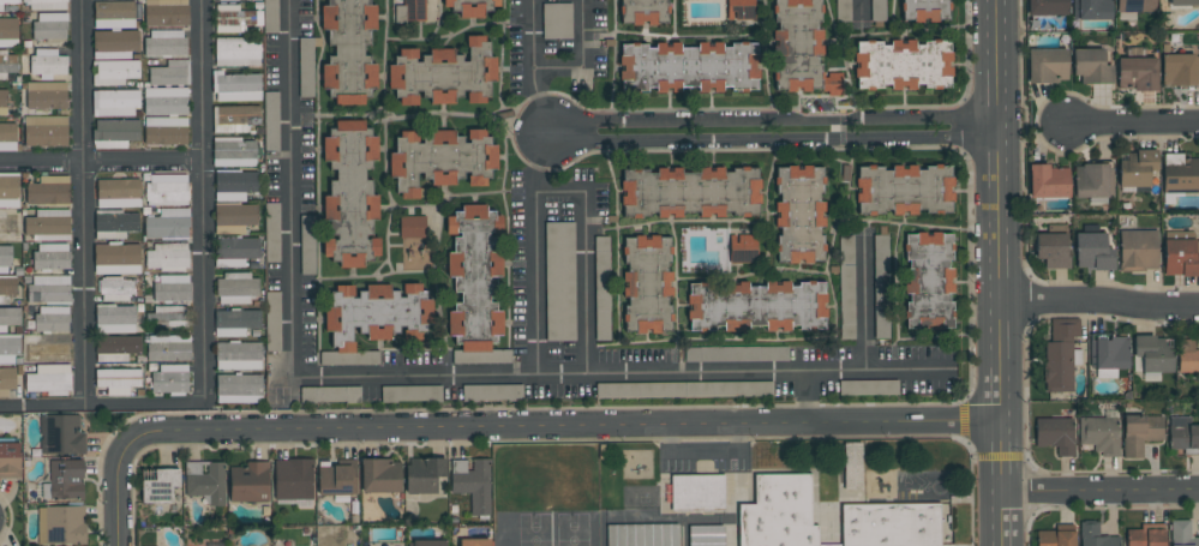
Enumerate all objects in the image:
building: (226, 0)
building: (6, 2)
building: (1183, 2)
building: (44, 5)
building: (1135, 6)
building: (470, 7)
building: (1047, 7)
road: (861, 8)
building: (739, 10)
building: (924, 10)
building: (1091, 10)
building: (409, 11)
building: (843, 11)
building: (877, 11)
building: (166, 12)
building: (642, 12)
building: (114, 14)
building: (245, 18)
building: (556, 20)
building: (50, 26)
building: (8, 32)
building: (166, 43)
building: (114, 44)
building: (801, 49)
building: (348, 50)
building: (236, 52)
road: (586, 60)
building: (47, 64)
building: (903, 65)
building: (1047, 65)
building: (1091, 66)
building: (306, 67)
building: (688, 67)
road: (533, 68)
building: (1138, 70)
building: (1180, 70)
building: (114, 72)
building: (169, 73)
building: (443, 74)
building: (235, 86)
building: (46, 95)
building: (2, 101)
building: (164, 101)
building: (114, 103)
building: (234, 119)
road: (1134, 122)
building: (270, 124)
building: (44, 131)
building: (164, 131)
road: (774, 132)
building: (115, 133)
building: (7, 137)
building: (234, 152)
building: (440, 160)
road: (544, 163)
road: (101, 166)
building: (1135, 168)
building: (1180, 174)
building: (1048, 181)
building: (1093, 181)
building: (234, 185)
road: (293, 186)
building: (8, 190)
building: (167, 190)
building: (904, 190)
building: (48, 191)
road: (558, 191)
building: (690, 192)
building: (118, 193)
building: (349, 196)
road: (82, 203)
road: (203, 203)
building: (798, 214)
building: (234, 217)
building: (114, 223)
building: (47, 224)
building: (167, 224)
building: (410, 227)
building: (271, 233)
building: (307, 245)
building: (743, 248)
building: (1051, 250)
building: (1138, 250)
building: (235, 251)
building: (1093, 251)
building: (50, 257)
building: (1181, 257)
building: (5, 258)
building: (166, 258)
building: (116, 259)
road: (1000, 272)
building: (559, 281)
building: (928, 281)
building: (847, 283)
building: (646, 284)
building: (473, 286)
building: (881, 287)
building: (172, 288)
building: (236, 288)
building: (601, 288)
building: (7, 289)
building: (49, 289)
building: (115, 290)
road: (863, 302)
building: (755, 306)
road: (1099, 306)
building: (10, 317)
building: (170, 317)
building: (52, 318)
building: (373, 318)
building: (114, 319)
building: (272, 322)
building: (235, 323)
building: (49, 348)
building: (115, 348)
building: (168, 348)
building: (8, 349)
building: (736, 354)
building: (1060, 355)
building: (1108, 355)
building: (1153, 355)
building: (1188, 355)
building: (238, 356)
road: (621, 370)
building: (48, 379)
building: (169, 379)
building: (6, 380)
building: (115, 382)
building: (868, 388)
building: (239, 389)
building: (687, 389)
building: (492, 392)
building: (410, 394)
building: (330, 395)
road: (805, 397)
road: (101, 407)
road: (557, 428)
building: (1140, 433)
building: (61, 434)
building: (1055, 434)
building: (1099, 434)
building: (1182, 434)
building: (10, 460)
building: (852, 464)
building: (422, 475)
building: (337, 476)
building: (379, 476)
building: (293, 479)
building: (64, 480)
building: (205, 481)
building: (250, 482)
building: (472, 484)
building: (696, 492)
road: (1102, 492)
road: (120, 494)
building: (778, 512)
building: (60, 524)
building: (894, 524)
building: (1181, 534)
building: (642, 535)
building: (706, 535)
building: (1146, 535)
building: (1095, 536)
building: (1055, 538)
building: (427, 542)
building: (474, 542)
building: (215, 544)

